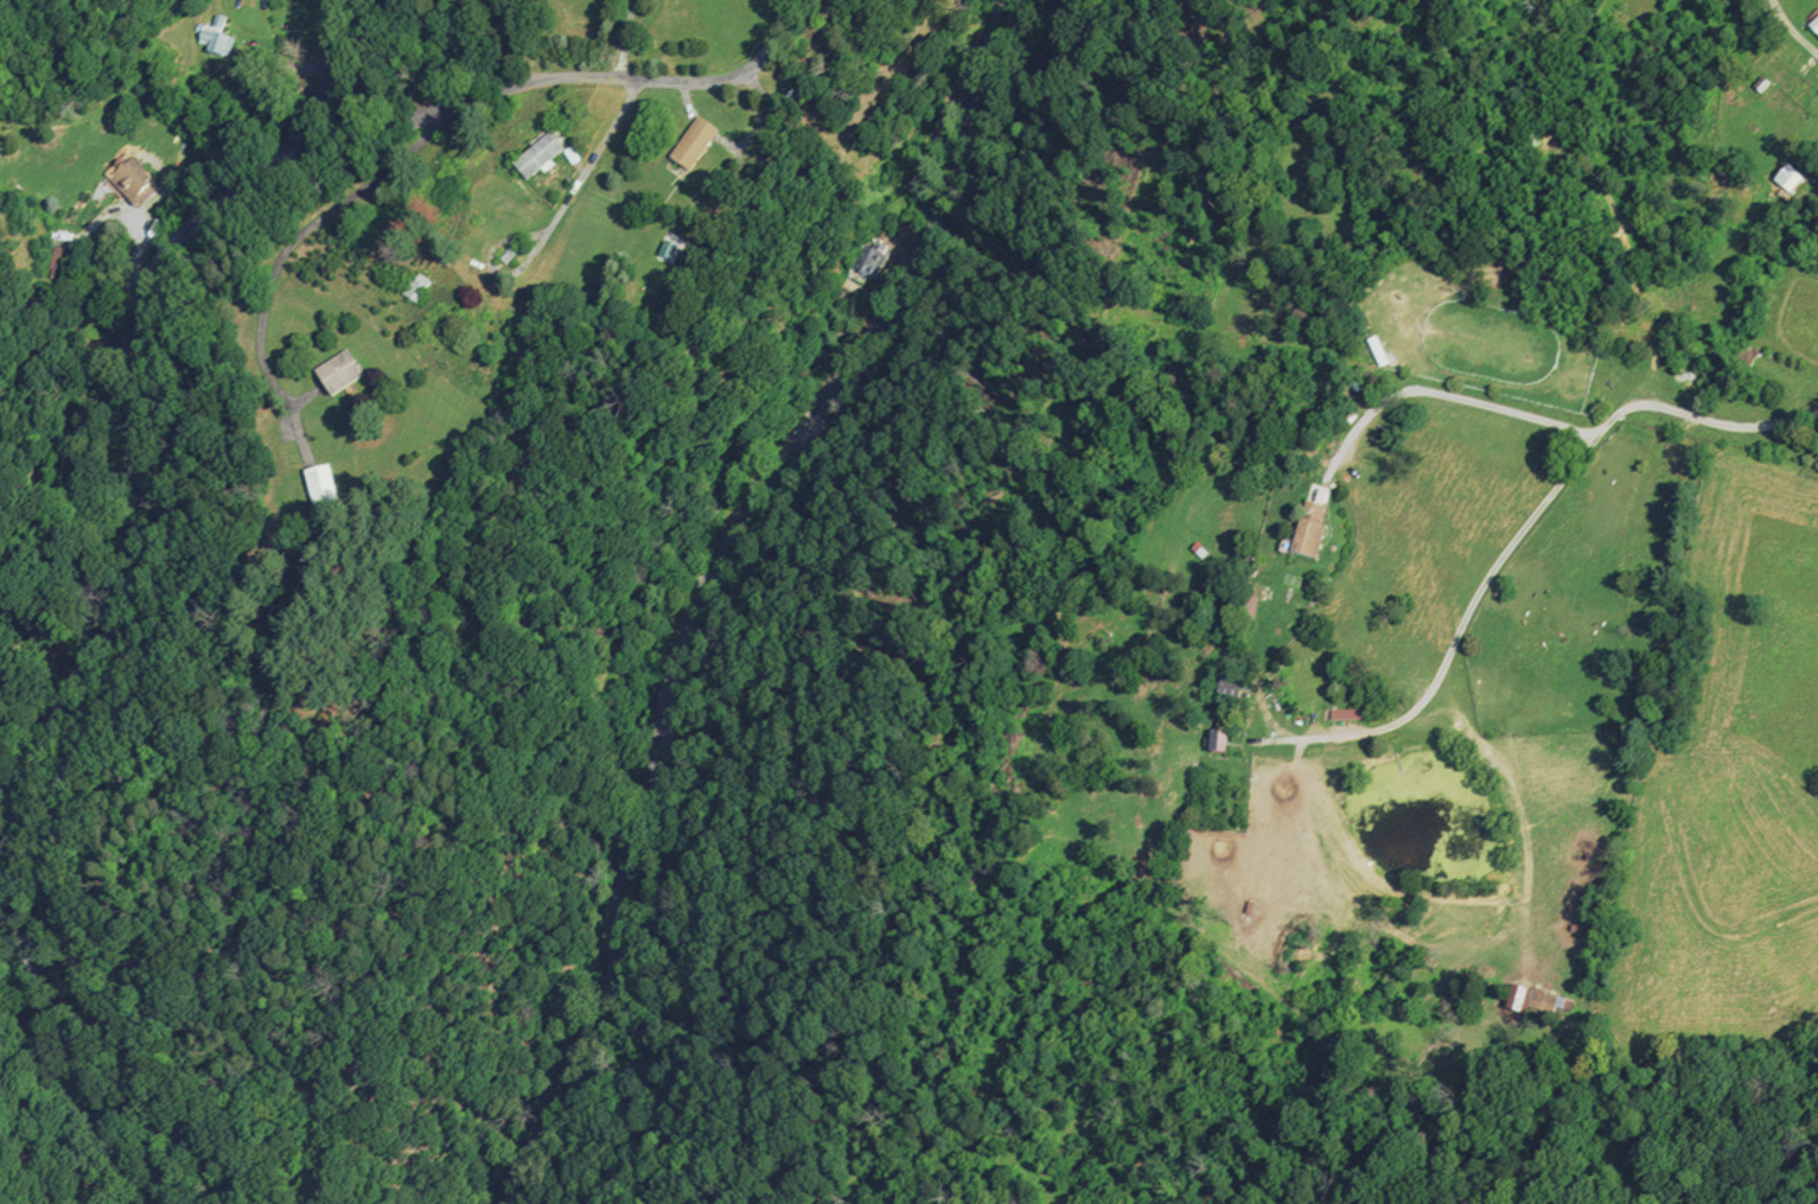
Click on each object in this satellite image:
road: (1791, 27)
building: (1814, 27)
building: (216, 38)
road: (530, 79)
road: (613, 121)
building: (691, 142)
building: (537, 155)
building: (1790, 177)
building: (133, 179)
road: (302, 232)
building: (668, 249)
building: (502, 254)
building: (58, 257)
road: (139, 261)
building: (863, 261)
road: (491, 266)
building: (415, 288)
building: (1373, 350)
building: (338, 375)
road: (1442, 394)
building: (320, 489)
building: (1308, 533)
road: (1513, 540)
road: (707, 581)
road: (129, 586)
building: (1242, 612)
building: (1227, 688)
building: (1348, 715)
building: (1218, 744)
building: (1526, 1001)
road: (1026, 1028)
road: (1262, 1128)
road: (556, 1166)
road: (997, 1193)

